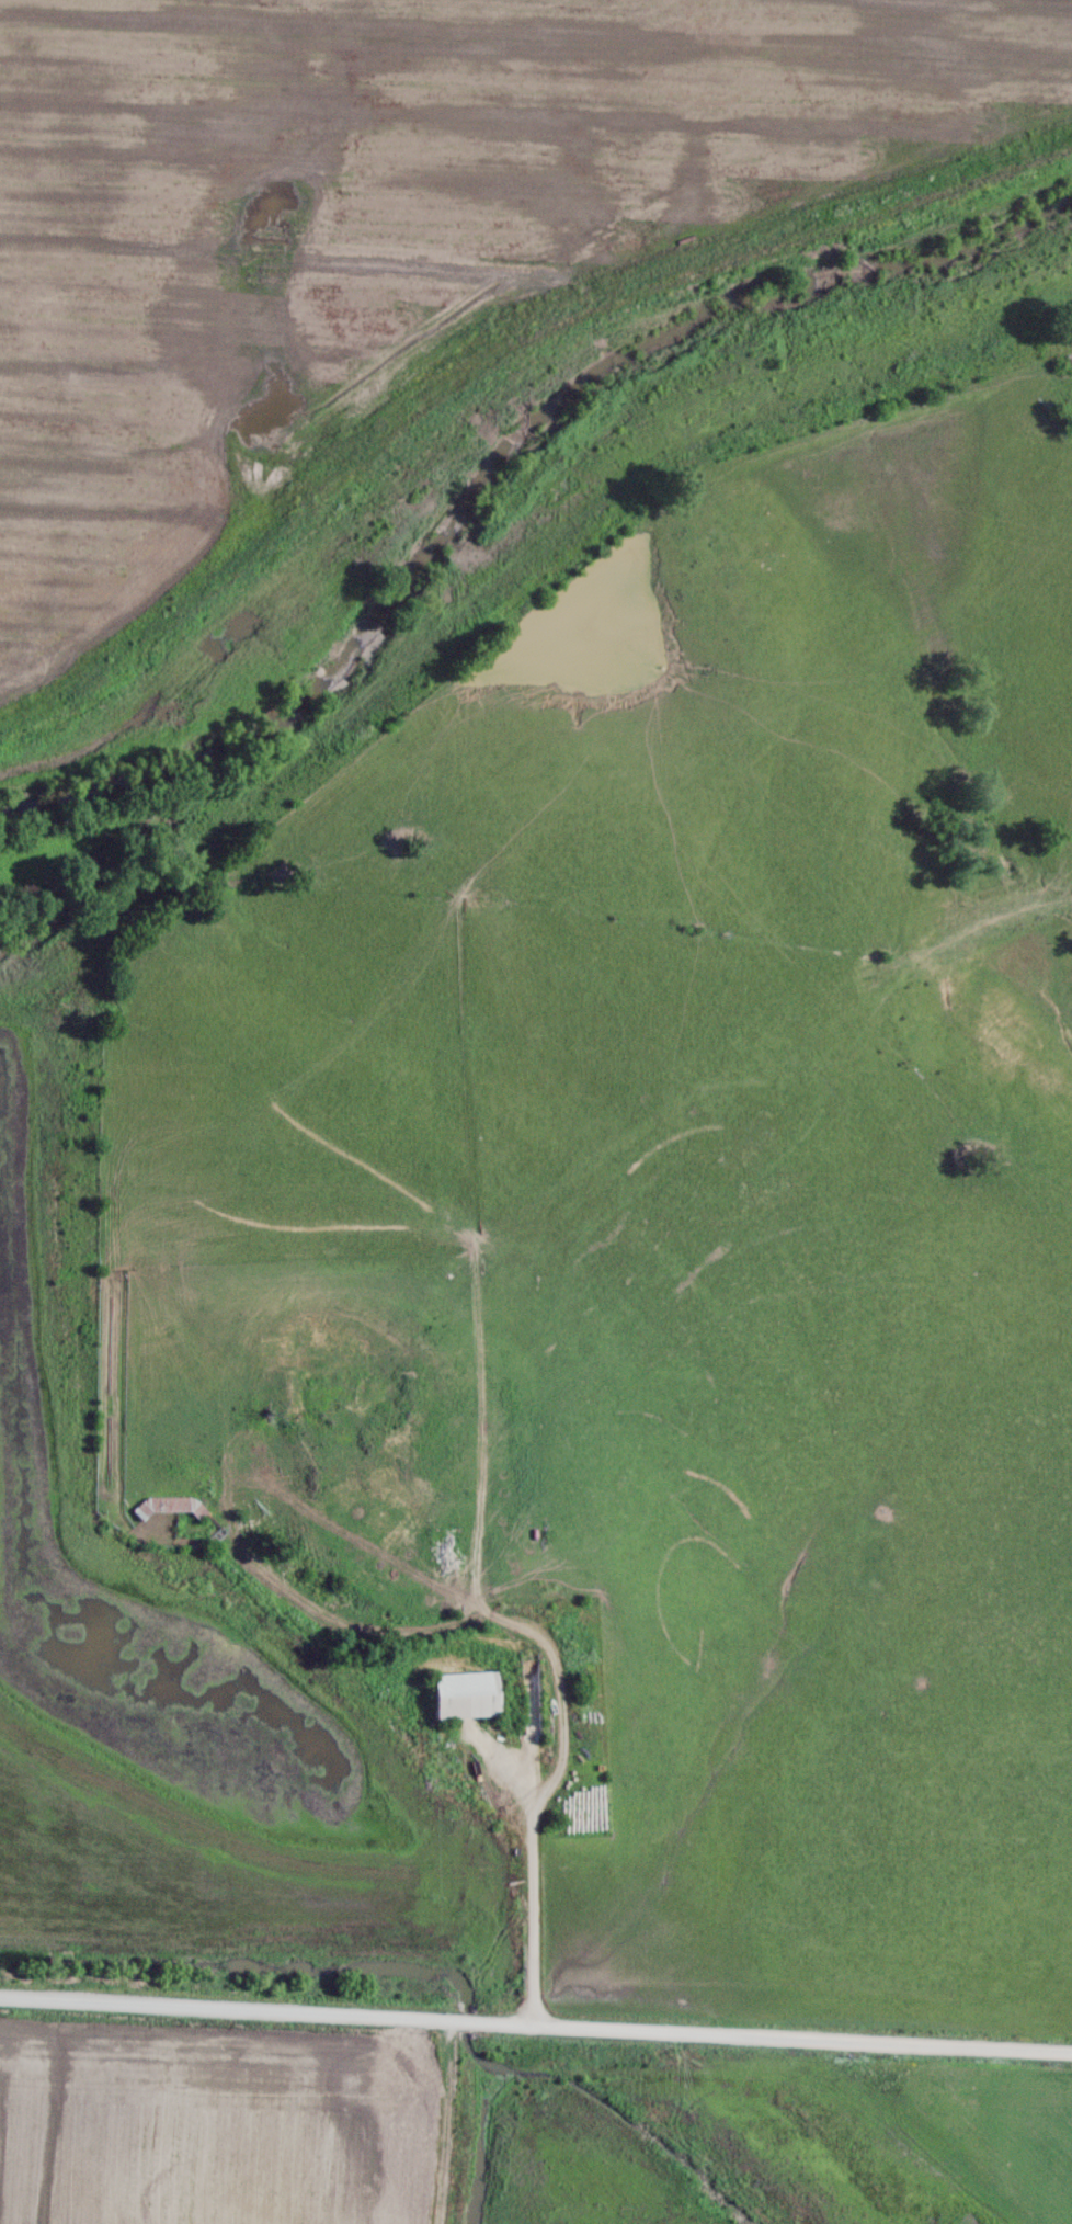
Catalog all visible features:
building: (460, 1695)
road: (527, 1865)
road: (536, 2028)

